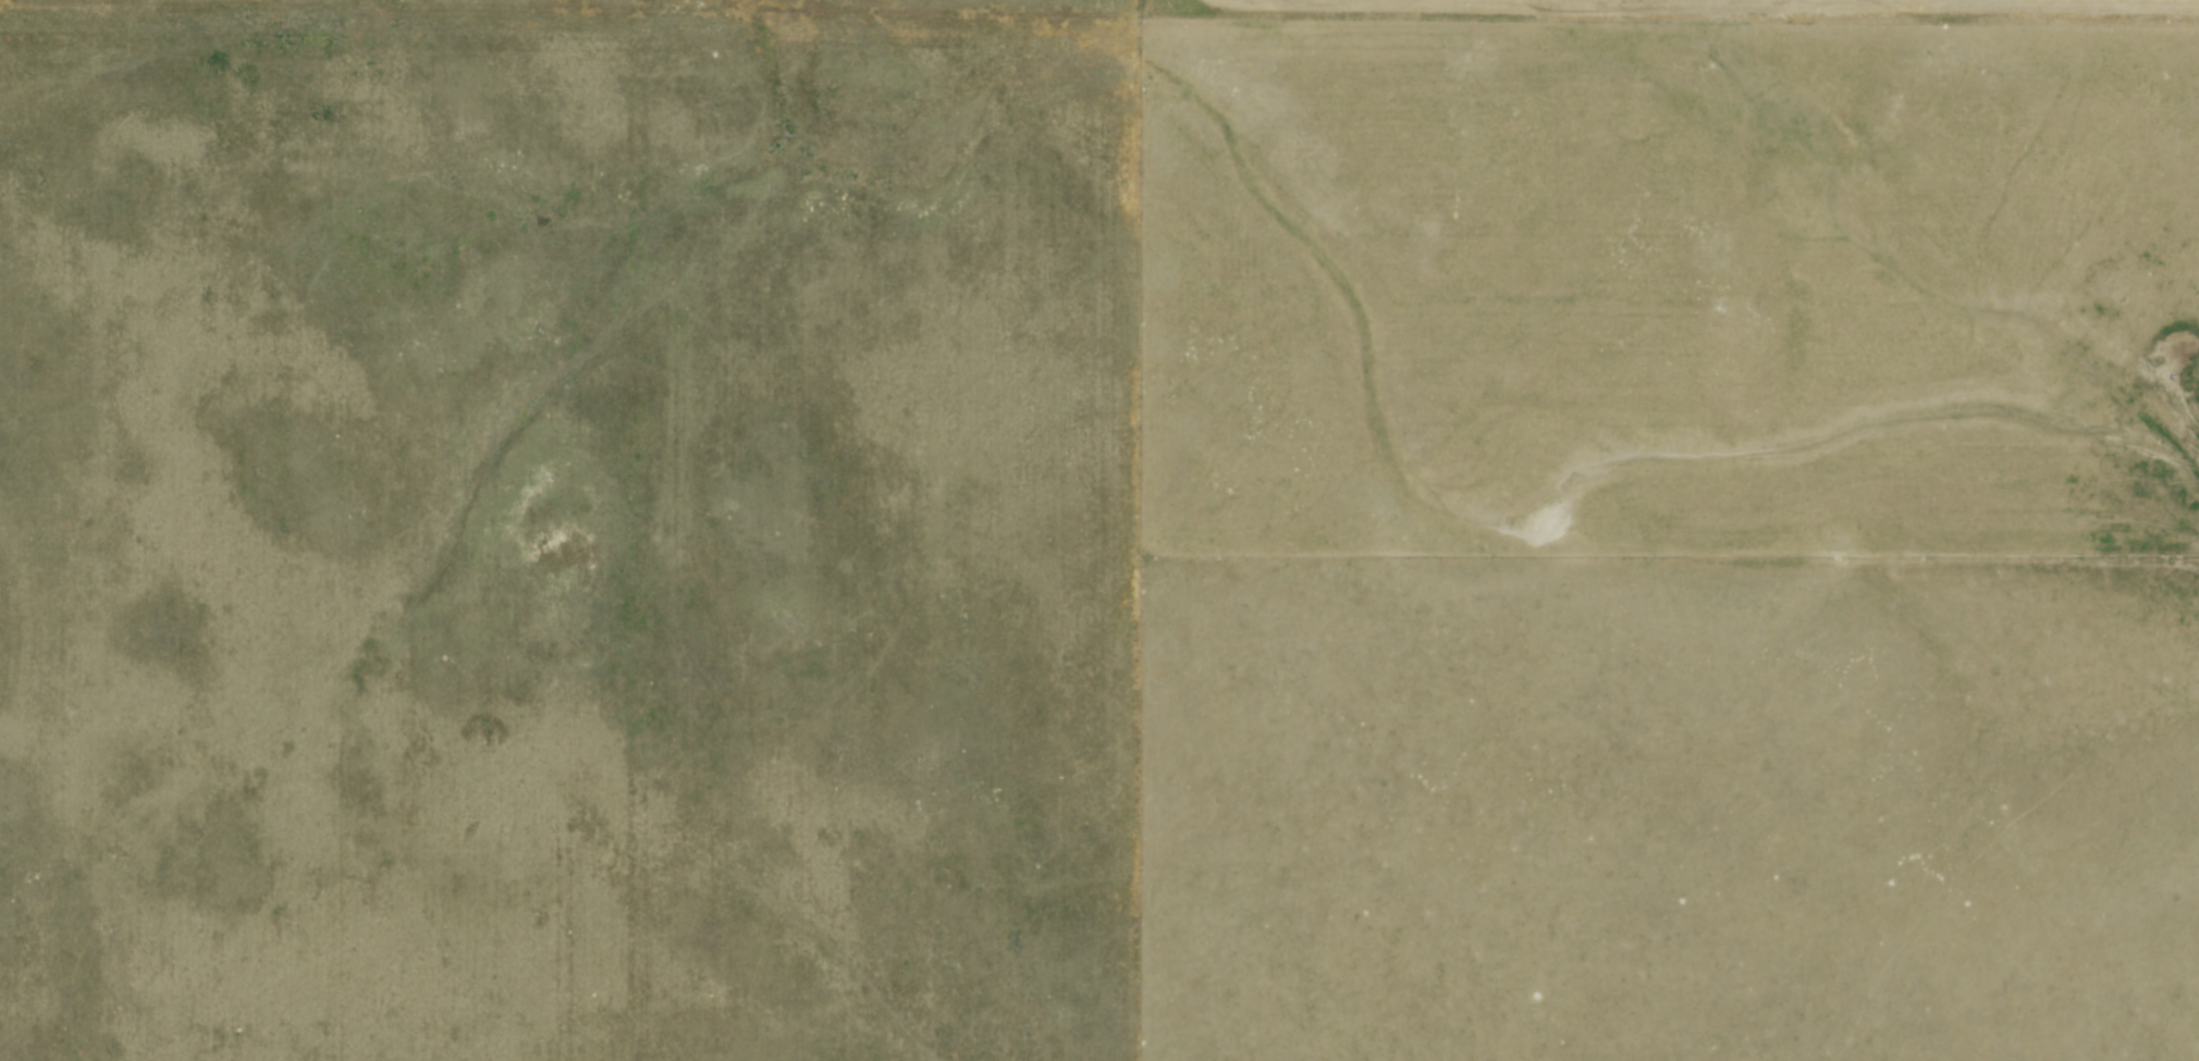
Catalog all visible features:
crop: (1790, 2)

